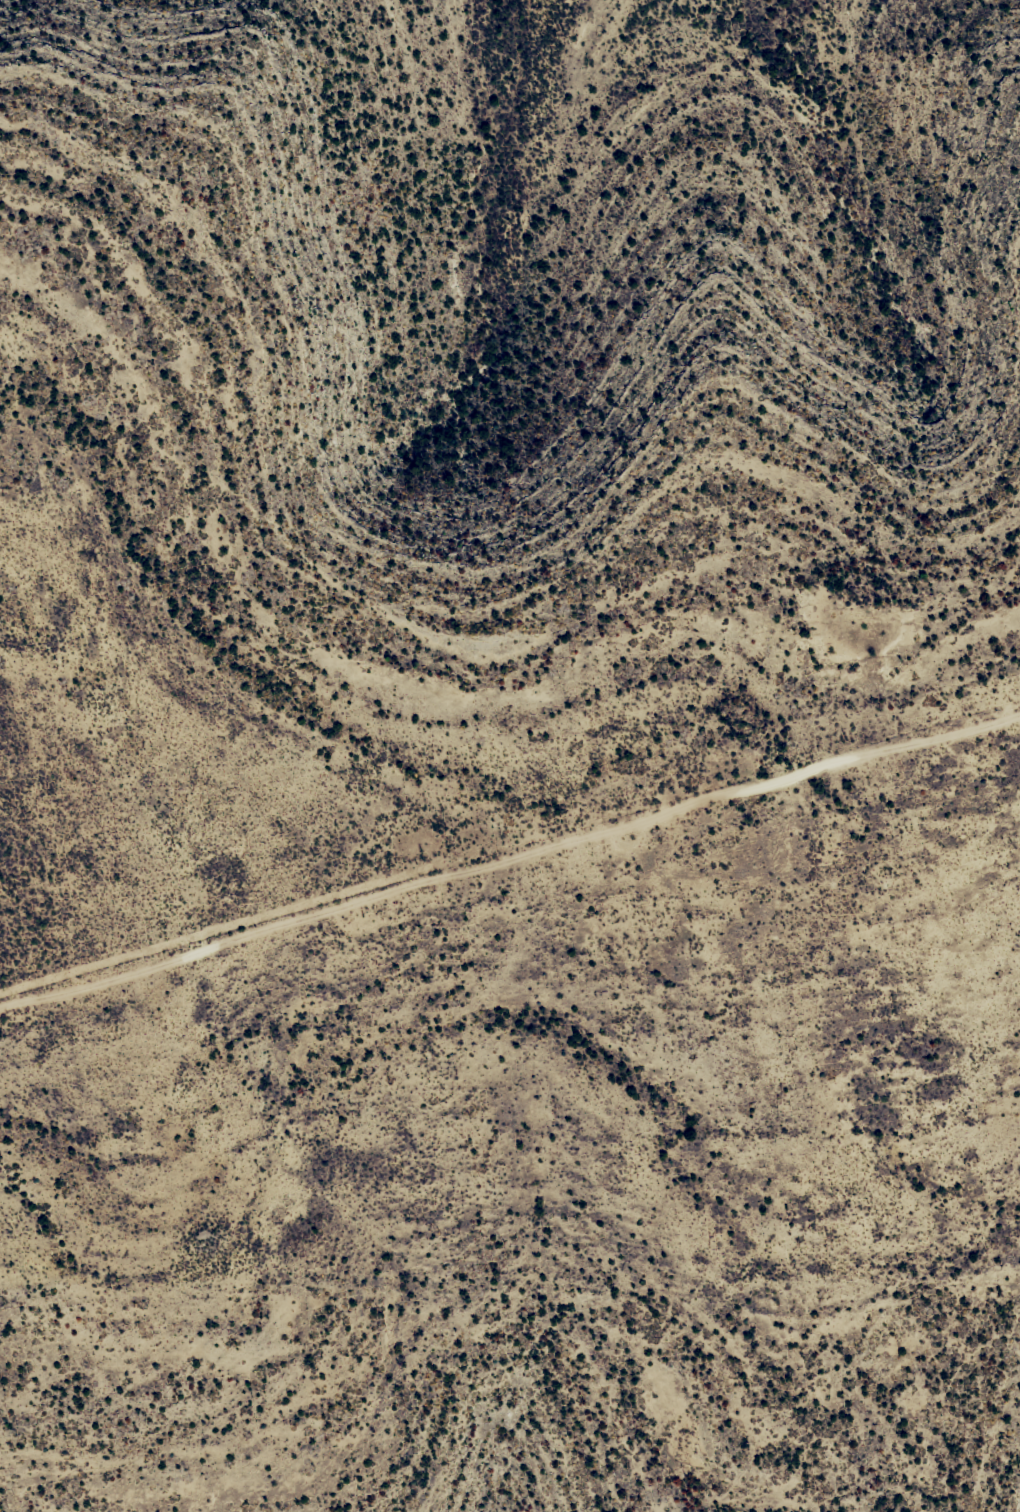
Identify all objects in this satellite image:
road: (590, 39)

